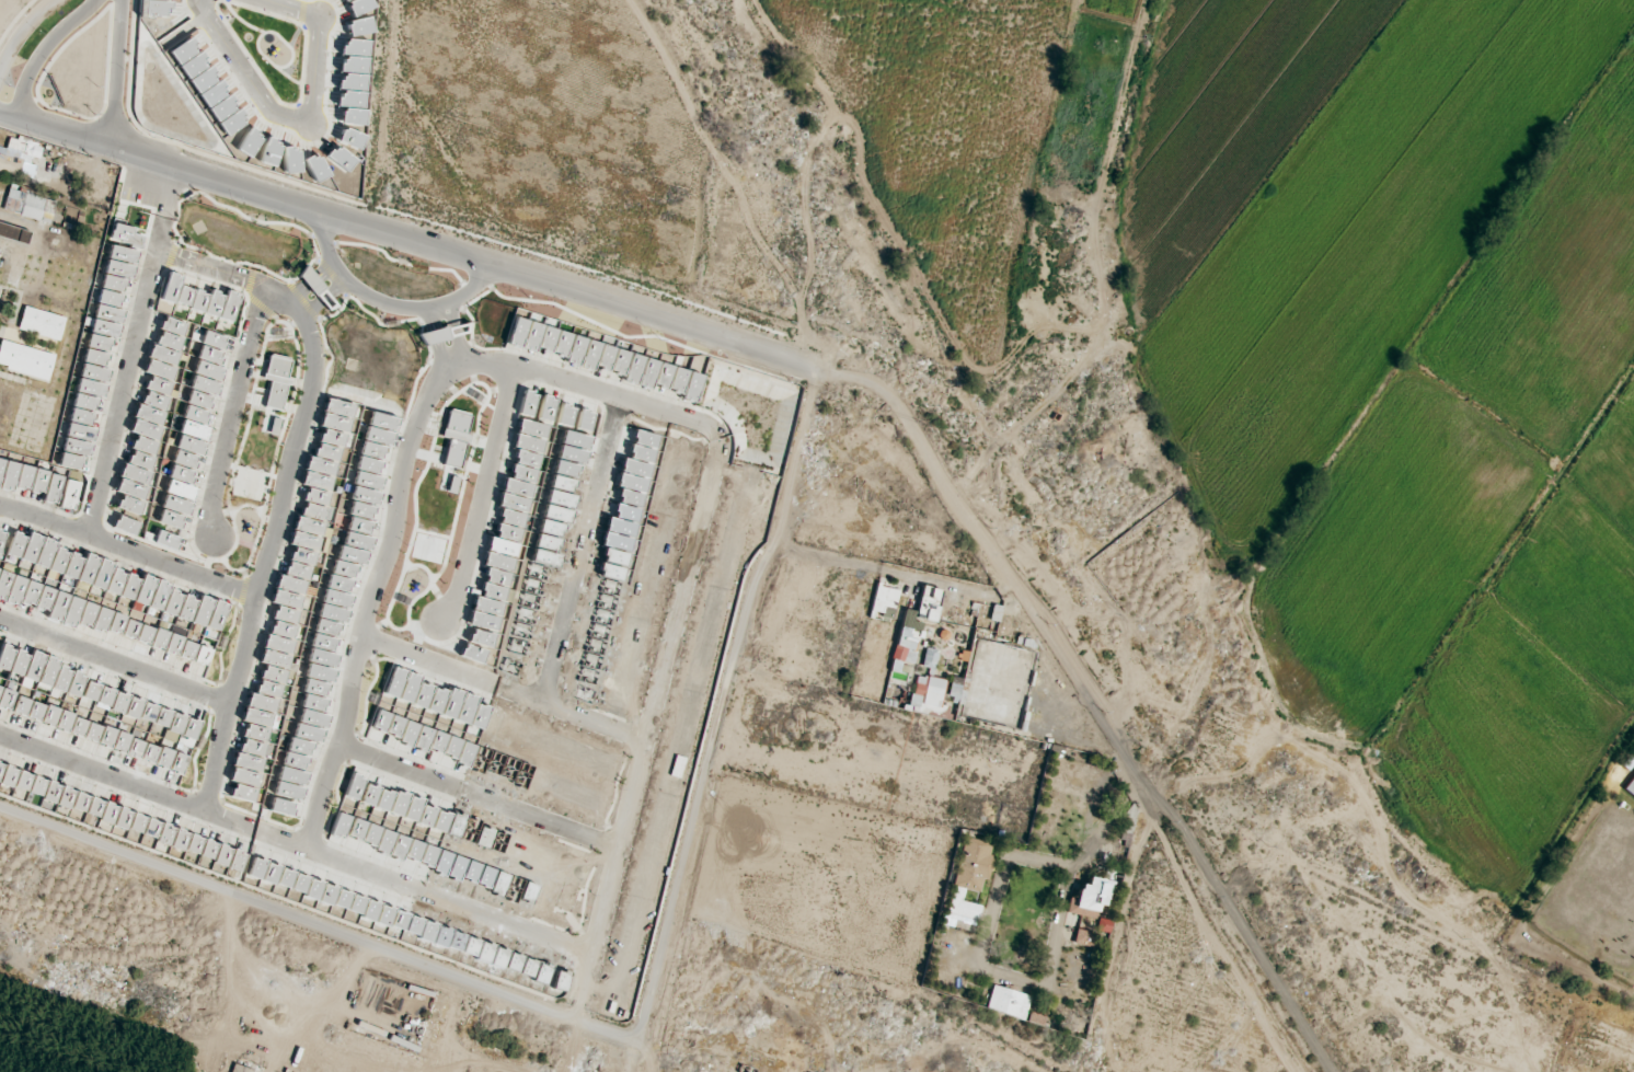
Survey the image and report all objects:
crop: (1126, 3)
crop: (935, 123)
crop: (538, 132)
crop: (1317, 208)
crop: (1473, 420)
crop: (182, 526)
crop: (1535, 673)
road: (1518, 926)

